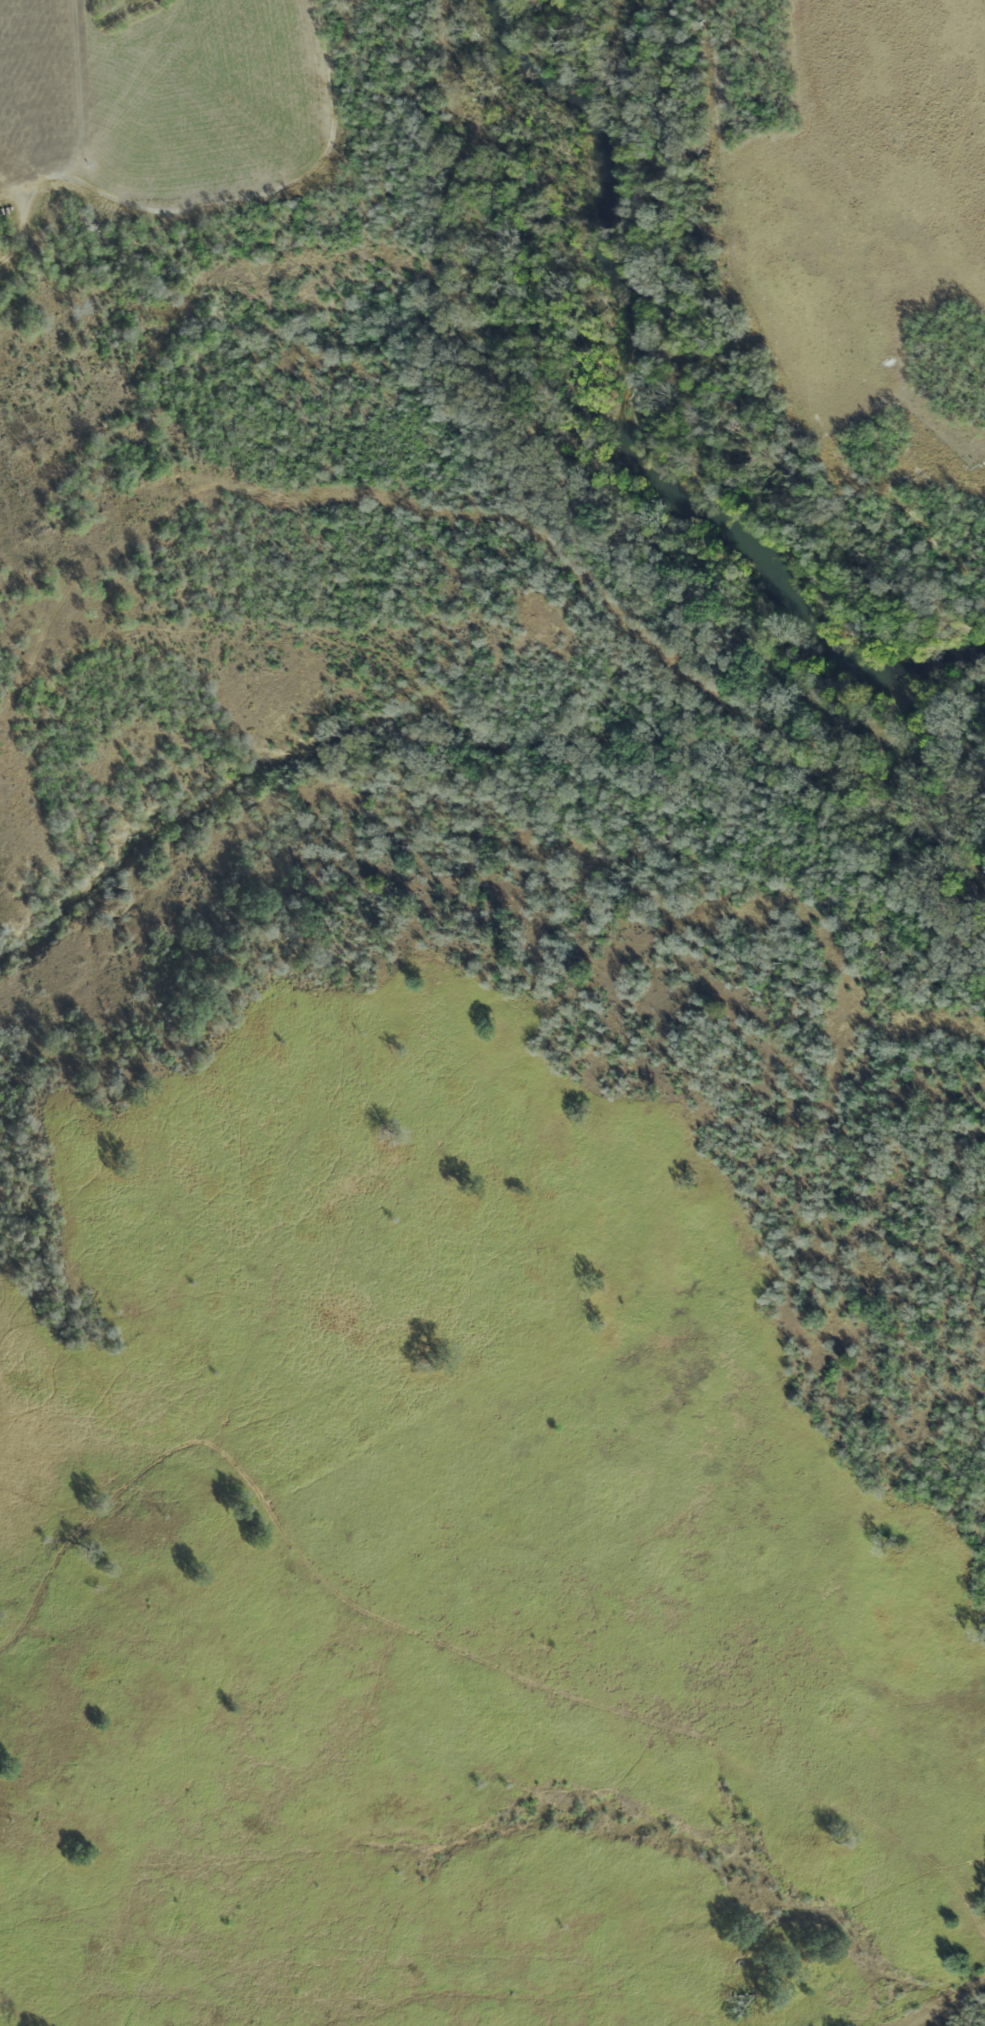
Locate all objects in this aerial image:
river: (633, 430)

